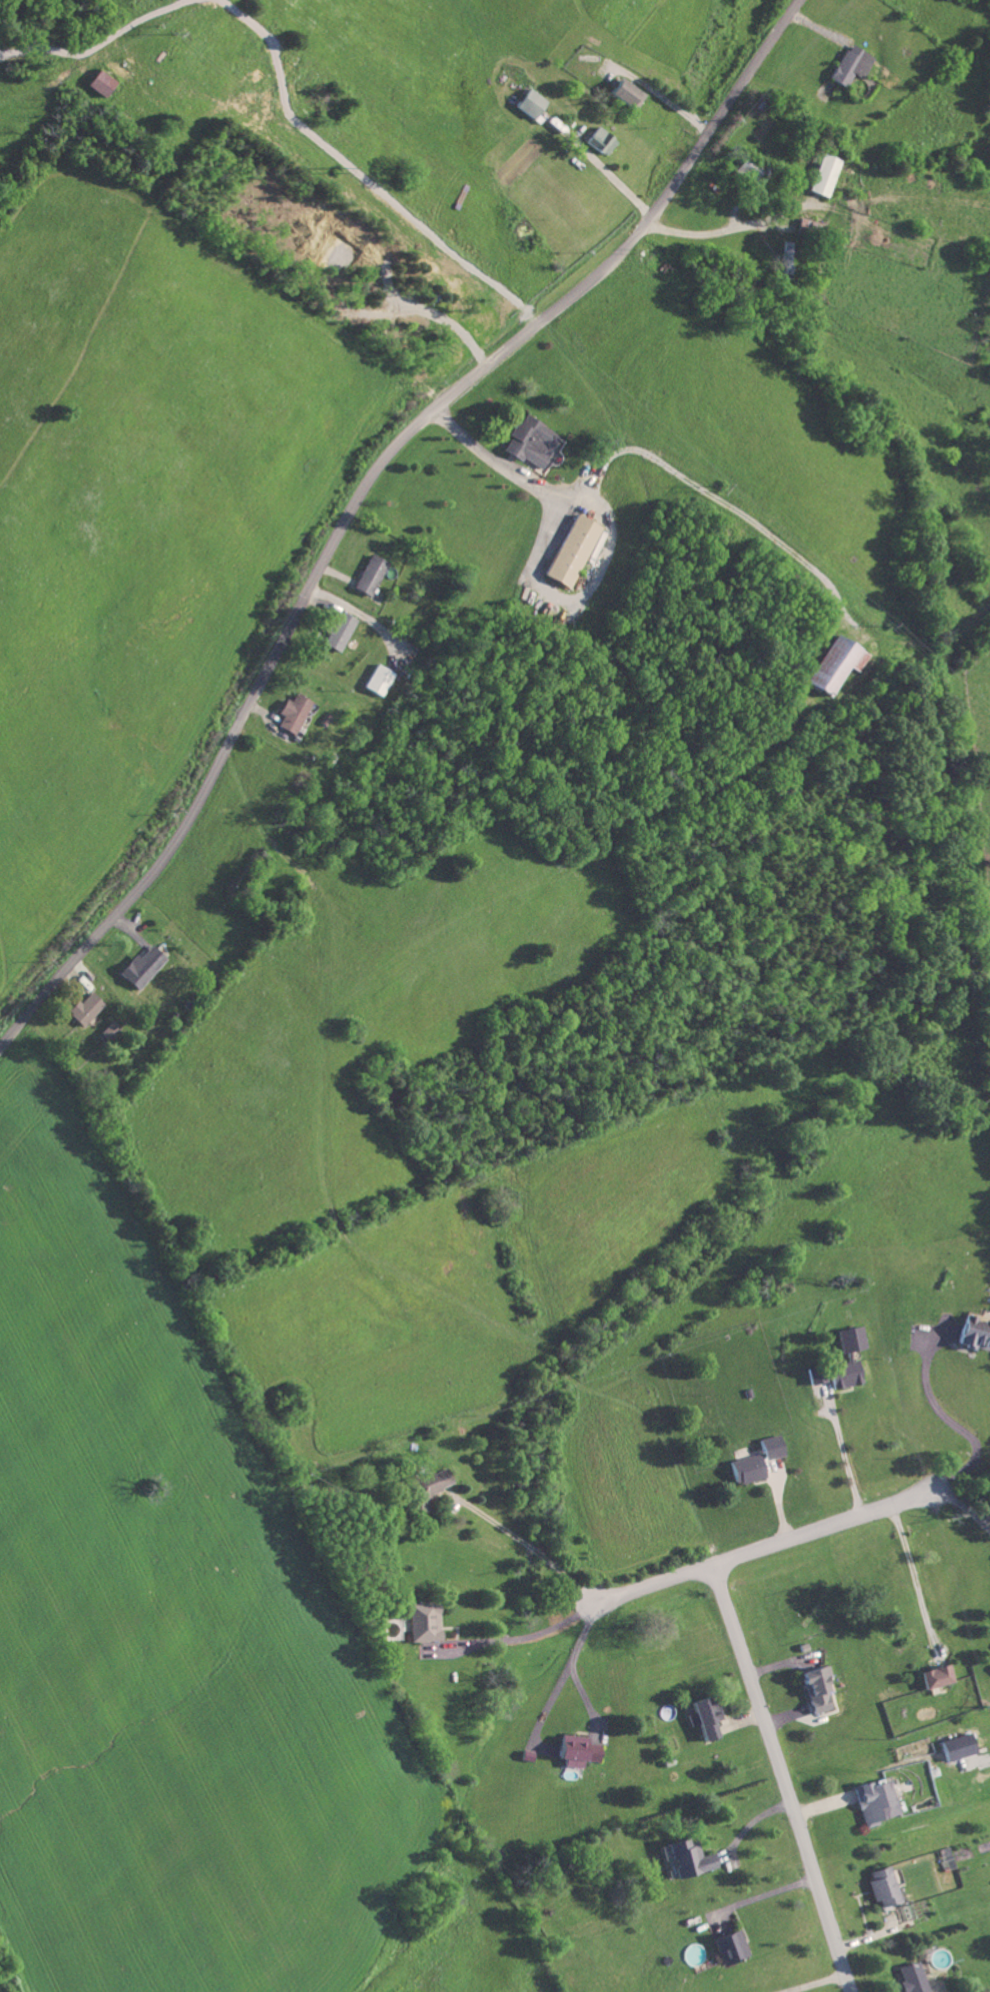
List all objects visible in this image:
road: (989, 1)
building: (850, 64)
building: (98, 82)
building: (621, 92)
road: (665, 99)
building: (529, 102)
building: (598, 140)
building: (748, 168)
road: (605, 169)
building: (824, 175)
building: (527, 441)
road: (362, 494)
road: (614, 530)
building: (596, 544)
building: (570, 550)
building: (368, 574)
road: (367, 614)
building: (336, 631)
building: (826, 665)
building: (377, 680)
building: (291, 713)
building: (139, 967)
building: (81, 1009)
building: (109, 1031)
building: (974, 1332)
building: (851, 1338)
building: (845, 1373)
building: (815, 1376)
road: (952, 1420)
building: (771, 1446)
road: (846, 1452)
building: (747, 1467)
building: (419, 1488)
road: (967, 1509)
road: (526, 1540)
road: (764, 1547)
building: (422, 1621)
road: (516, 1638)
building: (932, 1675)
building: (813, 1688)
building: (956, 1746)
building: (573, 1749)
road: (782, 1777)
building: (875, 1800)
building: (684, 1858)
building: (881, 1886)
building: (728, 1946)
road: (465, 1953)
building: (910, 1977)

